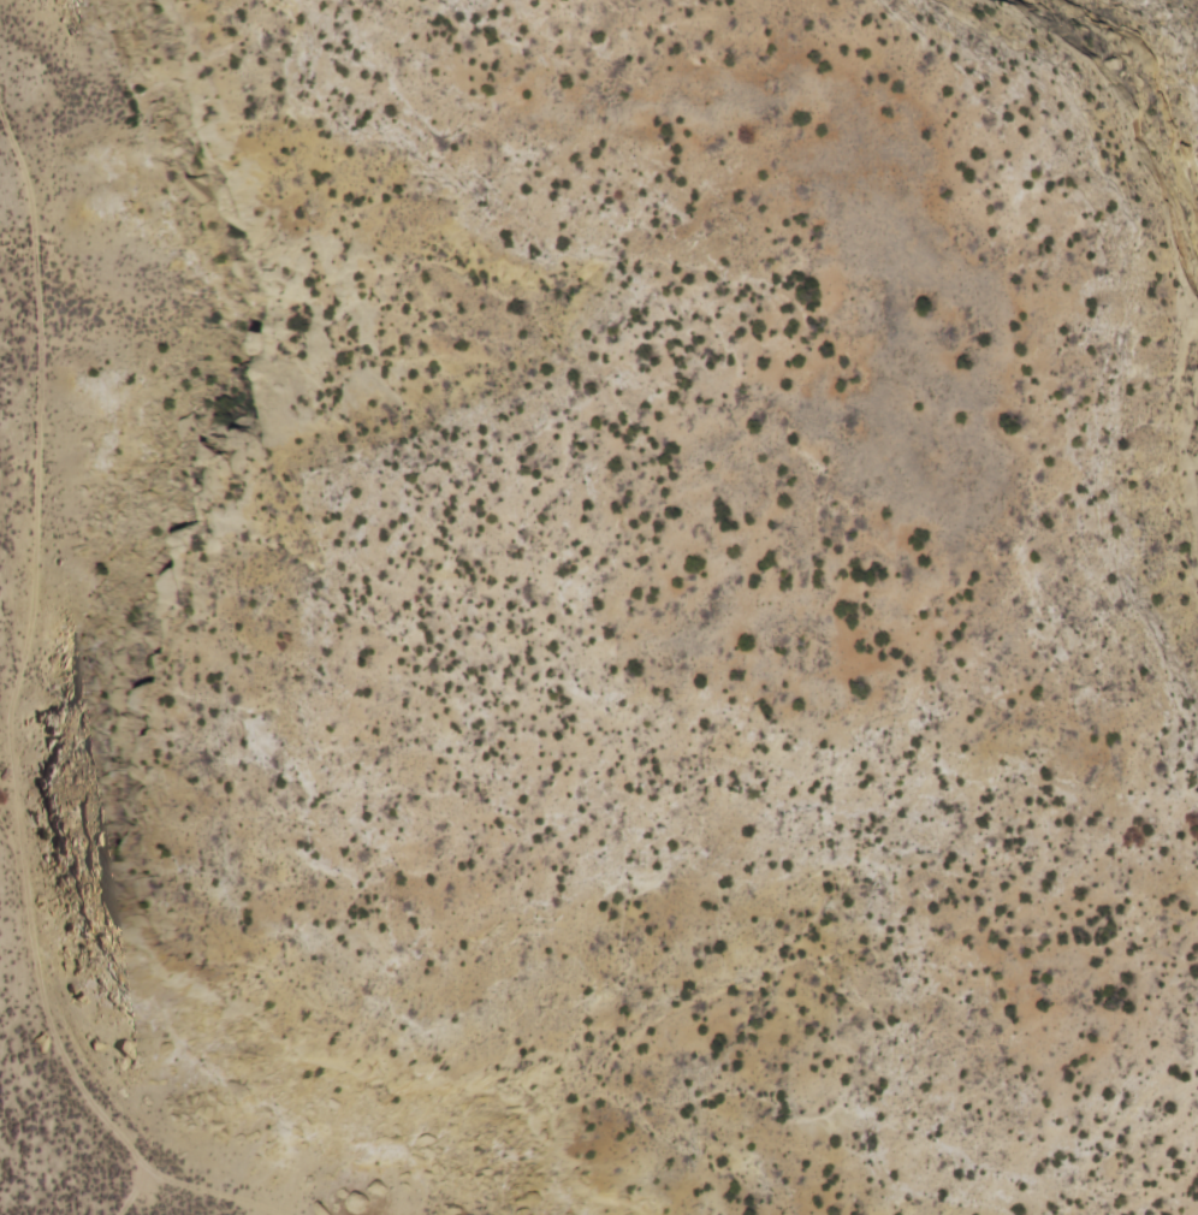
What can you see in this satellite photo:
road: (75, 680)

